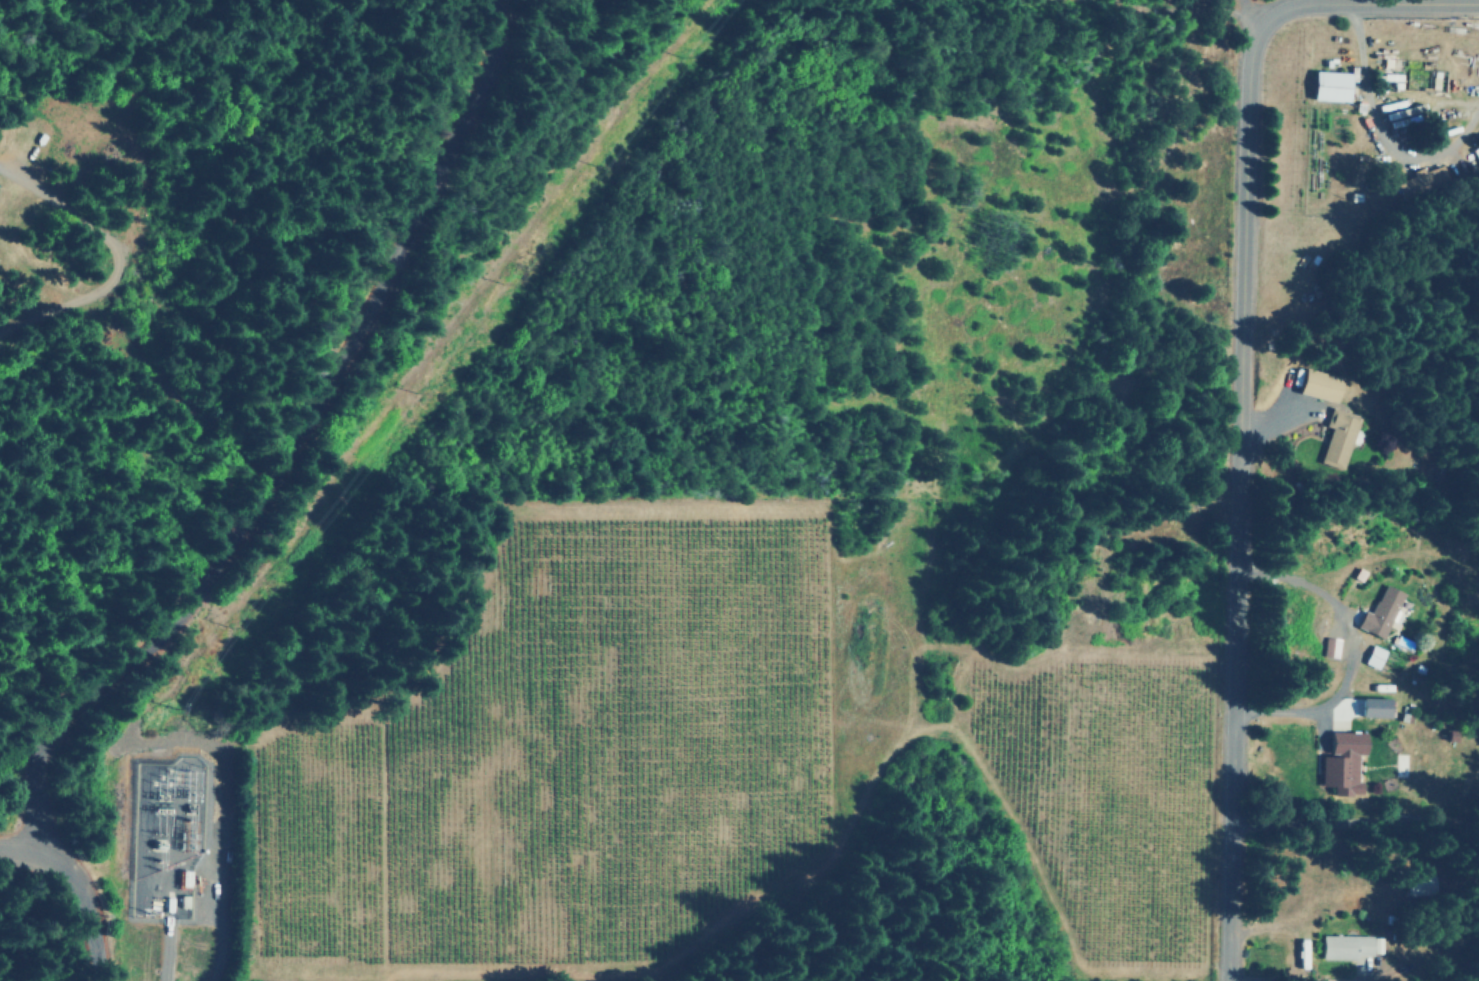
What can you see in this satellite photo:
building: (1328, 86)
building: (1419, 180)
building: (1318, 385)
road: (292, 433)
building: (1337, 438)
road: (1204, 466)
building: (1379, 612)
road: (1366, 631)
building: (1328, 647)
building: (1372, 656)
building: (1372, 707)
building: (1341, 763)
road: (67, 886)
building: (1344, 947)

